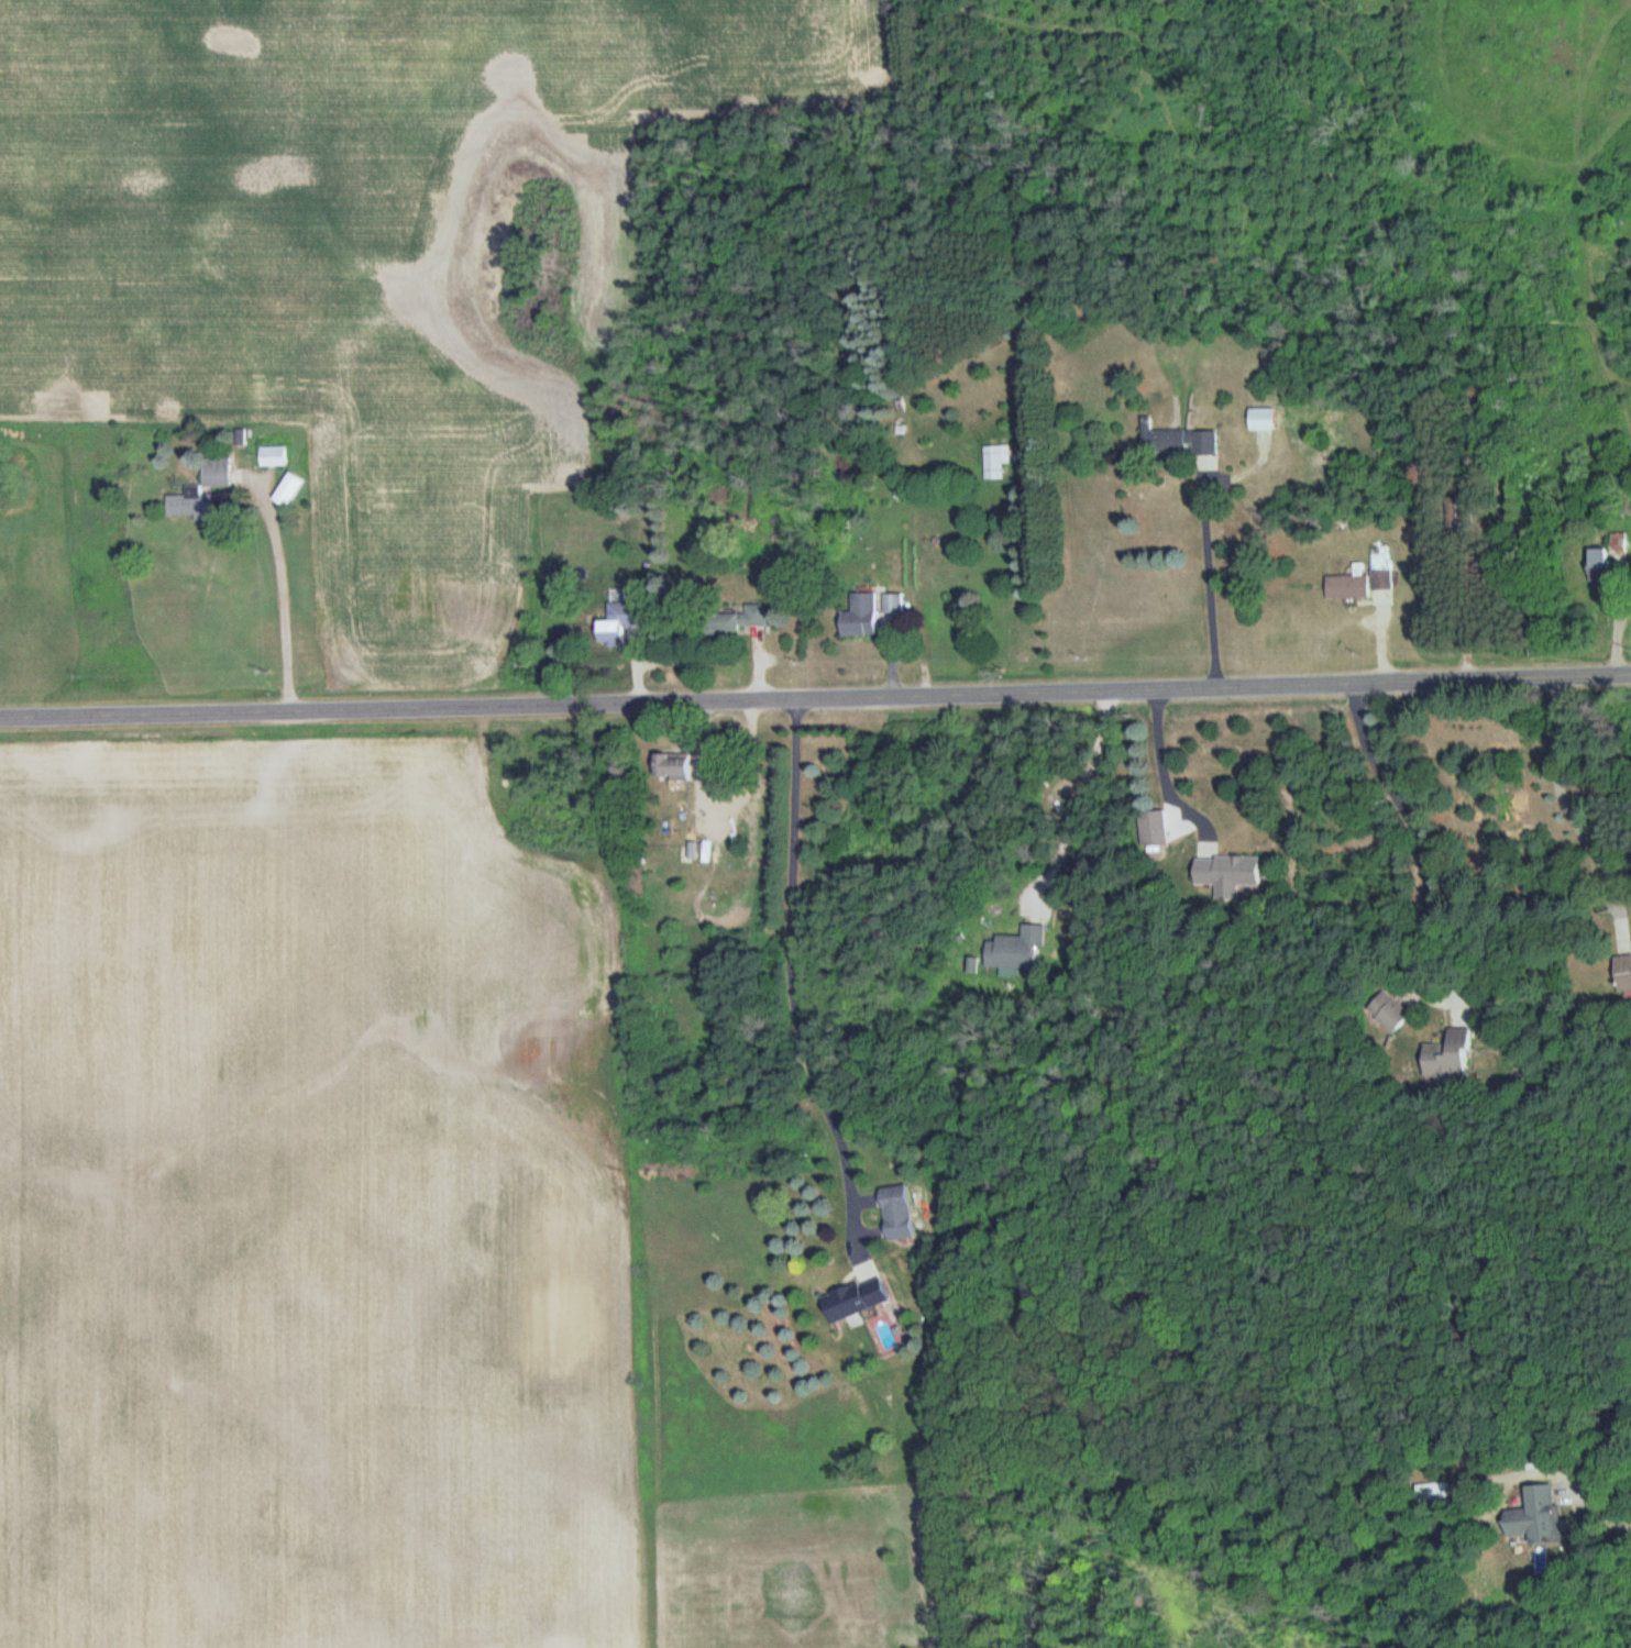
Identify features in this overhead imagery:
building: (1263, 419)
building: (1180, 443)
building: (273, 456)
building: (995, 462)
building: (288, 490)
building: (201, 491)
building: (1606, 555)
road: (1210, 569)
building: (1363, 578)
road: (283, 588)
building: (893, 610)
building: (861, 616)
building: (621, 620)
building: (734, 621)
road: (815, 694)
building: (673, 766)
road: (1165, 778)
road: (1076, 803)
road: (1571, 811)
road: (1414, 831)
building: (1227, 874)
building: (1016, 951)
building: (1623, 974)
road: (793, 980)
building: (1389, 1013)
building: (1448, 1059)
building: (897, 1213)
building: (855, 1299)
building: (886, 1334)
road: (1606, 1511)
building: (1536, 1517)

